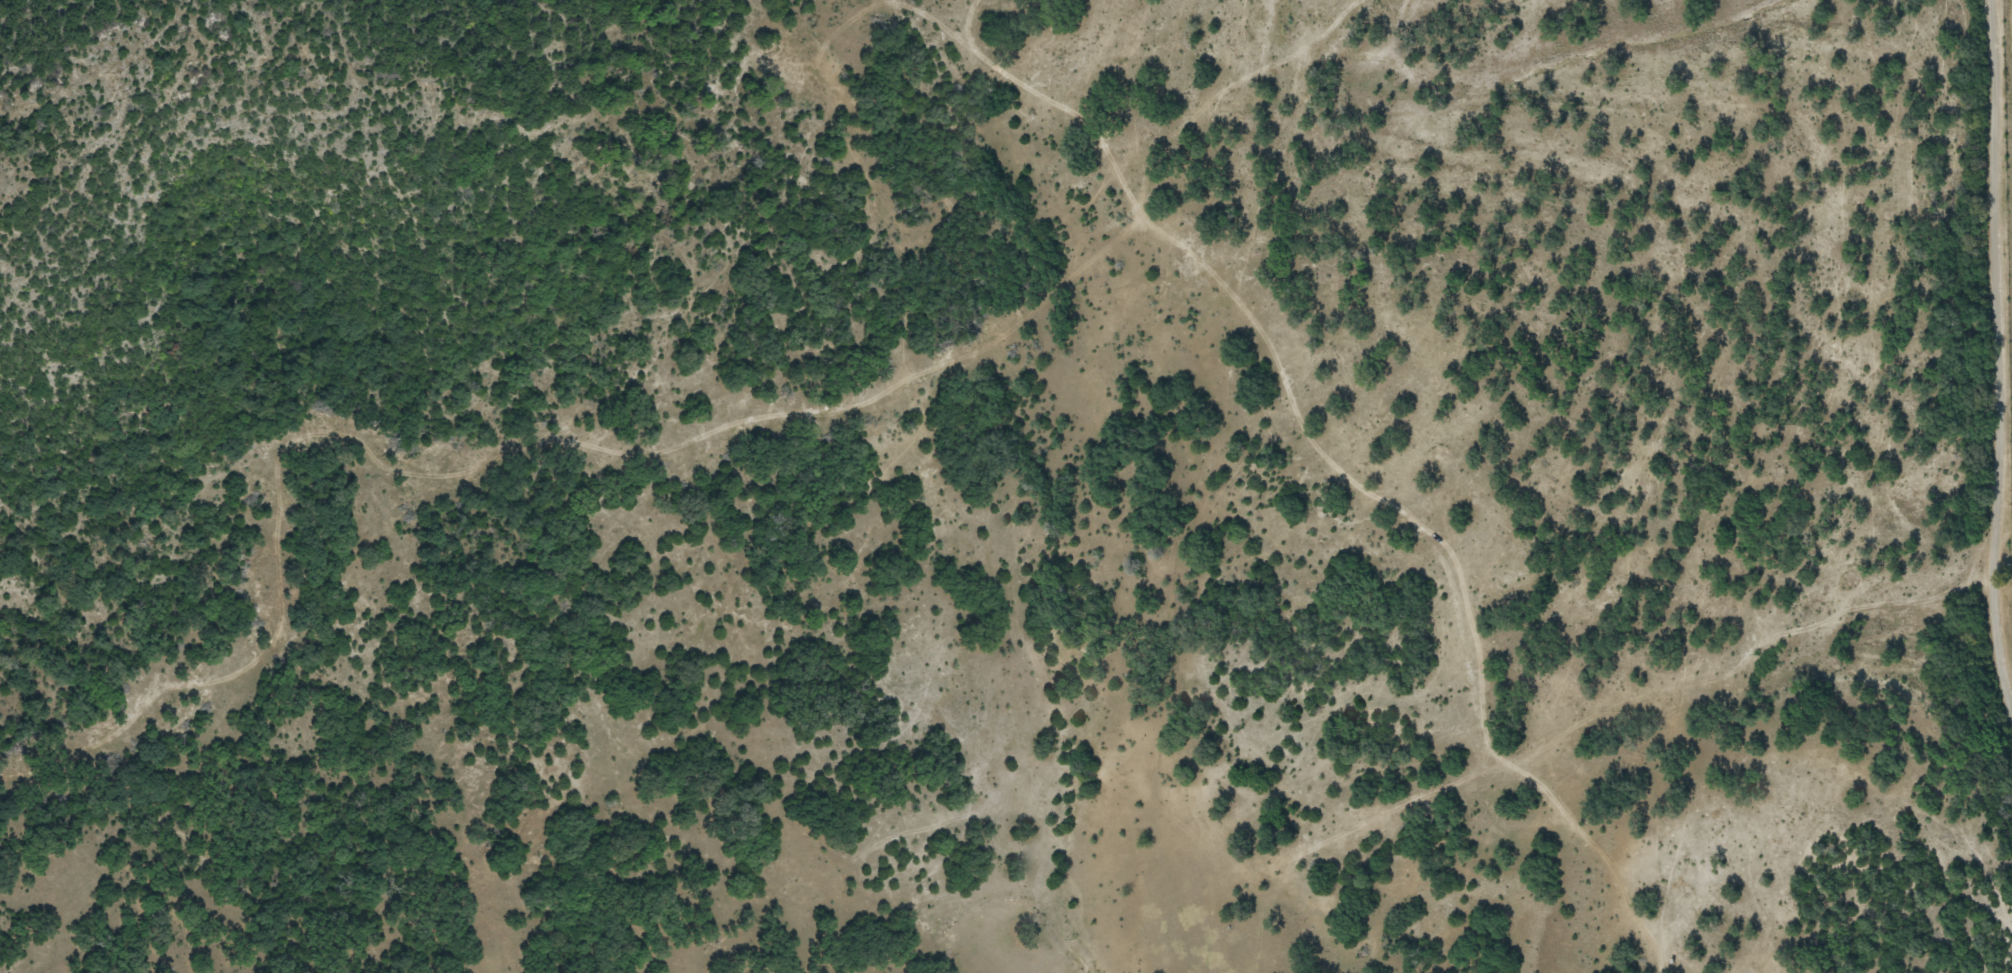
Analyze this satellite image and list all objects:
road: (1999, 351)

